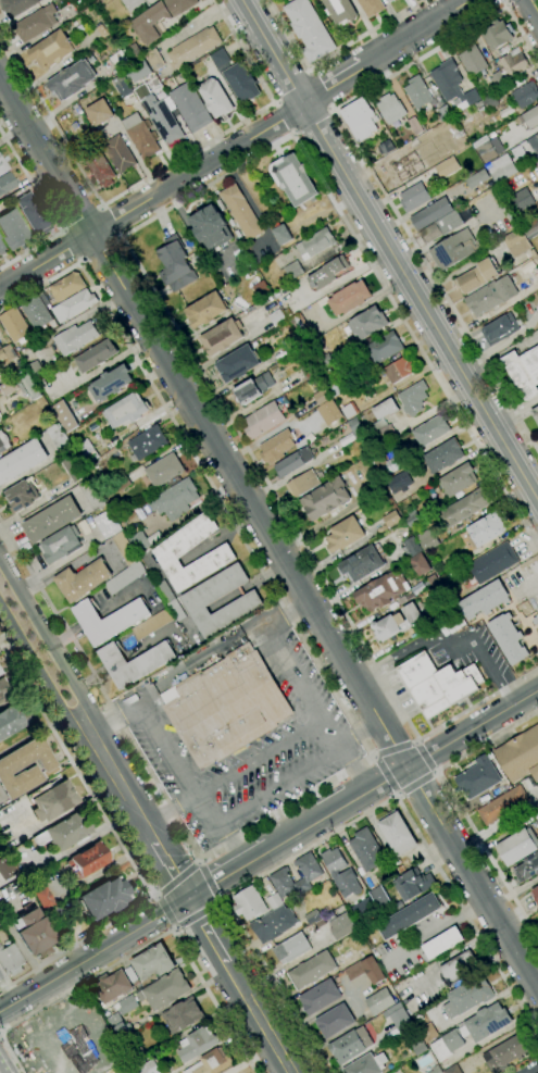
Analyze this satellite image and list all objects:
building: (389, 1)
building: (132, 3)
road: (505, 3)
building: (17, 7)
building: (372, 7)
road: (534, 7)
building: (340, 11)
building: (159, 18)
building: (36, 23)
building: (308, 29)
road: (417, 35)
building: (497, 35)
building: (192, 47)
building: (52, 50)
building: (504, 50)
road: (330, 57)
building: (118, 60)
building: (154, 60)
building: (473, 60)
building: (514, 63)
building: (138, 71)
road: (309, 72)
building: (236, 76)
building: (72, 80)
building: (497, 80)
building: (452, 85)
road: (331, 86)
building: (123, 87)
road: (317, 91)
building: (417, 92)
building: (525, 95)
building: (215, 98)
road: (275, 103)
building: (487, 103)
building: (190, 108)
road: (329, 109)
building: (390, 109)
building: (100, 112)
building: (445, 113)
road: (285, 115)
building: (529, 118)
building: (163, 120)
building: (360, 120)
building: (414, 125)
road: (292, 132)
building: (441, 132)
building: (537, 135)
building: (140, 136)
building: (386, 147)
building: (485, 149)
building: (518, 152)
building: (120, 154)
road: (47, 157)
building: (537, 161)
building: (2, 166)
building: (409, 166)
building: (447, 166)
building: (99, 167)
road: (367, 170)
building: (501, 172)
road: (152, 173)
building: (477, 178)
building: (293, 179)
building: (5, 183)
building: (496, 192)
building: (414, 197)
road: (153, 199)
building: (523, 199)
road: (100, 207)
road: (47, 209)
building: (240, 212)
building: (430, 213)
building: (33, 214)
road: (80, 220)
road: (107, 224)
building: (211, 227)
building: (441, 227)
building: (530, 228)
building: (13, 229)
road: (62, 229)
building: (281, 234)
road: (117, 238)
building: (516, 242)
building: (314, 244)
road: (72, 245)
building: (2, 248)
road: (97, 248)
road: (390, 250)
building: (452, 250)
building: (537, 253)
road: (129, 254)
building: (537, 254)
road: (79, 261)
building: (176, 264)
building: (293, 270)
building: (328, 273)
building: (476, 276)
building: (66, 286)
building: (261, 290)
building: (490, 296)
building: (349, 298)
building: (78, 303)
building: (207, 310)
building: (38, 311)
building: (277, 317)
building: (367, 323)
building: (15, 325)
building: (300, 329)
building: (500, 329)
building: (223, 336)
building: (75, 337)
building: (0, 348)
building: (383, 349)
road: (500, 354)
building: (7, 355)
building: (96, 355)
building: (320, 360)
building: (238, 363)
building: (35, 369)
building: (399, 370)
building: (524, 372)
building: (112, 383)
building: (331, 383)
building: (21, 386)
building: (253, 388)
building: (322, 397)
building: (413, 399)
building: (385, 409)
building: (127, 410)
building: (349, 411)
road: (515, 411)
building: (328, 412)
building: (535, 414)
building: (0, 416)
building: (64, 416)
building: (263, 420)
building: (354, 425)
building: (430, 431)
building: (380, 433)
building: (148, 442)
building: (3, 445)
building: (276, 447)
building: (443, 456)
building: (22, 461)
building: (293, 462)
building: (387, 466)
building: (71, 470)
building: (164, 470)
building: (458, 479)
building: (302, 484)
building: (121, 485)
building: (22, 496)
building: (175, 499)
building: (325, 499)
road: (250, 501)
building: (464, 508)
building: (412, 517)
building: (391, 519)
building: (52, 520)
building: (108, 525)
building: (486, 528)
building: (345, 535)
building: (427, 540)
building: (139, 542)
building: (61, 545)
building: (412, 548)
building: (125, 549)
building: (220, 554)
building: (493, 562)
building: (362, 564)
building: (421, 564)
building: (125, 577)
building: (83, 579)
building: (433, 581)
building: (417, 588)
building: (165, 591)
building: (381, 591)
building: (484, 600)
building: (199, 601)
road: (288, 607)
building: (176, 610)
building: (537, 610)
building: (109, 620)
building: (536, 621)
building: (397, 623)
building: (152, 624)
building: (509, 638)
road: (445, 640)
road: (51, 645)
building: (134, 663)
building: (0, 672)
road: (42, 673)
road: (306, 681)
building: (438, 684)
building: (4, 690)
road: (410, 697)
road: (135, 698)
building: (227, 706)
flagpole: (427, 720)
building: (10, 721)
road: (115, 721)
road: (355, 725)
road: (473, 728)
road: (359, 731)
road: (415, 739)
road: (393, 749)
road: (372, 756)
building: (520, 756)
road: (423, 757)
road: (261, 758)
road: (353, 766)
building: (11, 768)
road: (434, 772)
road: (386, 774)
building: (478, 777)
road: (414, 782)
road: (123, 785)
road: (283, 788)
road: (397, 795)
building: (51, 800)
road: (455, 806)
building: (502, 806)
road: (340, 807)
road: (171, 810)
road: (345, 825)
building: (65, 832)
building: (397, 833)
road: (122, 844)
road: (233, 845)
building: (517, 846)
building: (366, 850)
building: (89, 859)
road: (197, 860)
building: (7, 868)
road: (171, 868)
building: (527, 868)
road: (232, 871)
building: (348, 873)
building: (279, 875)
road: (472, 877)
road: (176, 879)
road: (208, 881)
building: (413, 885)
building: (535, 894)
road: (153, 896)
building: (379, 897)
building: (43, 898)
building: (104, 898)
traffic signals: (190, 898)
road: (222, 901)
building: (275, 901)
building: (249, 903)
building: (399, 906)
building: (360, 908)
building: (537, 910)
road: (164, 911)
building: (53, 914)
road: (196, 914)
building: (311, 916)
building: (409, 916)
building: (274, 924)
building: (341, 926)
road: (173, 927)
building: (32, 931)
road: (208, 931)
road: (157, 937)
building: (441, 944)
building: (291, 948)
road: (95, 955)
building: (11, 960)
building: (154, 962)
building: (460, 968)
building: (312, 970)
building: (366, 971)
building: (132, 975)
building: (0, 977)
building: (0, 981)
building: (112, 987)
building: (165, 990)
building: (320, 997)
building: (468, 997)
building: (380, 1001)
road: (318, 1013)
building: (118, 1014)
building: (183, 1015)
road: (259, 1019)
building: (401, 1020)
building: (335, 1021)
building: (471, 1031)
building: (428, 1033)
building: (199, 1044)
building: (351, 1046)
building: (418, 1047)
road: (11, 1053)
building: (505, 1053)
building: (140, 1055)
road: (250, 1059)
building: (211, 1063)
building: (367, 1064)
building: (150, 1068)
building: (436, 1070)
building: (453, 1070)

